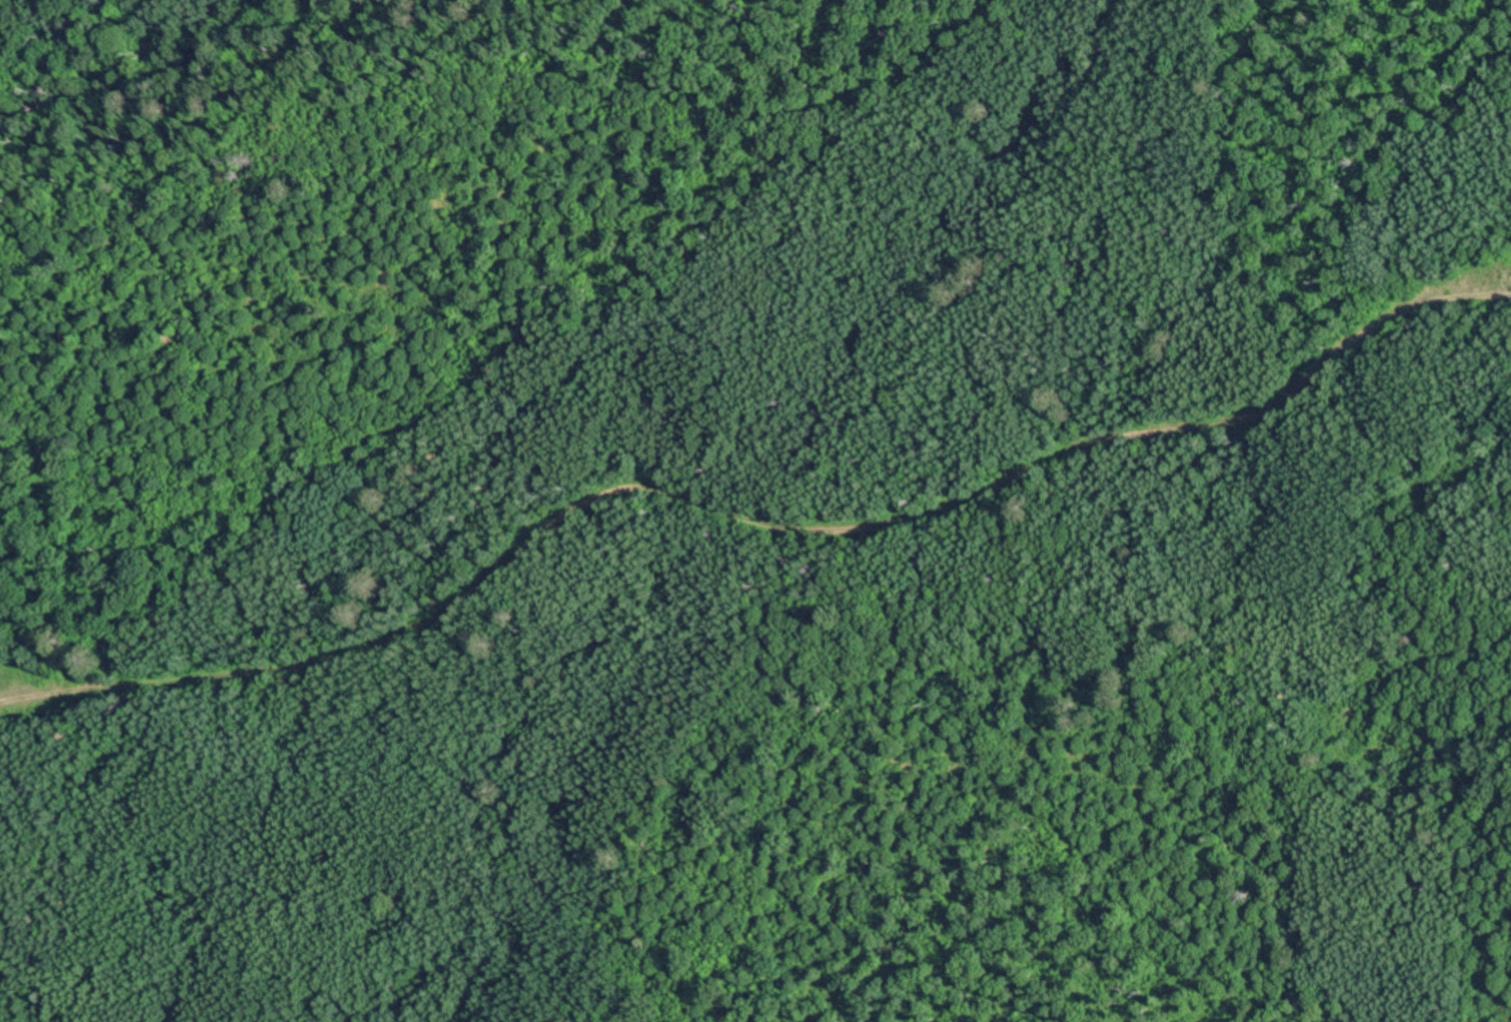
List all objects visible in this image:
road: (760, 517)

